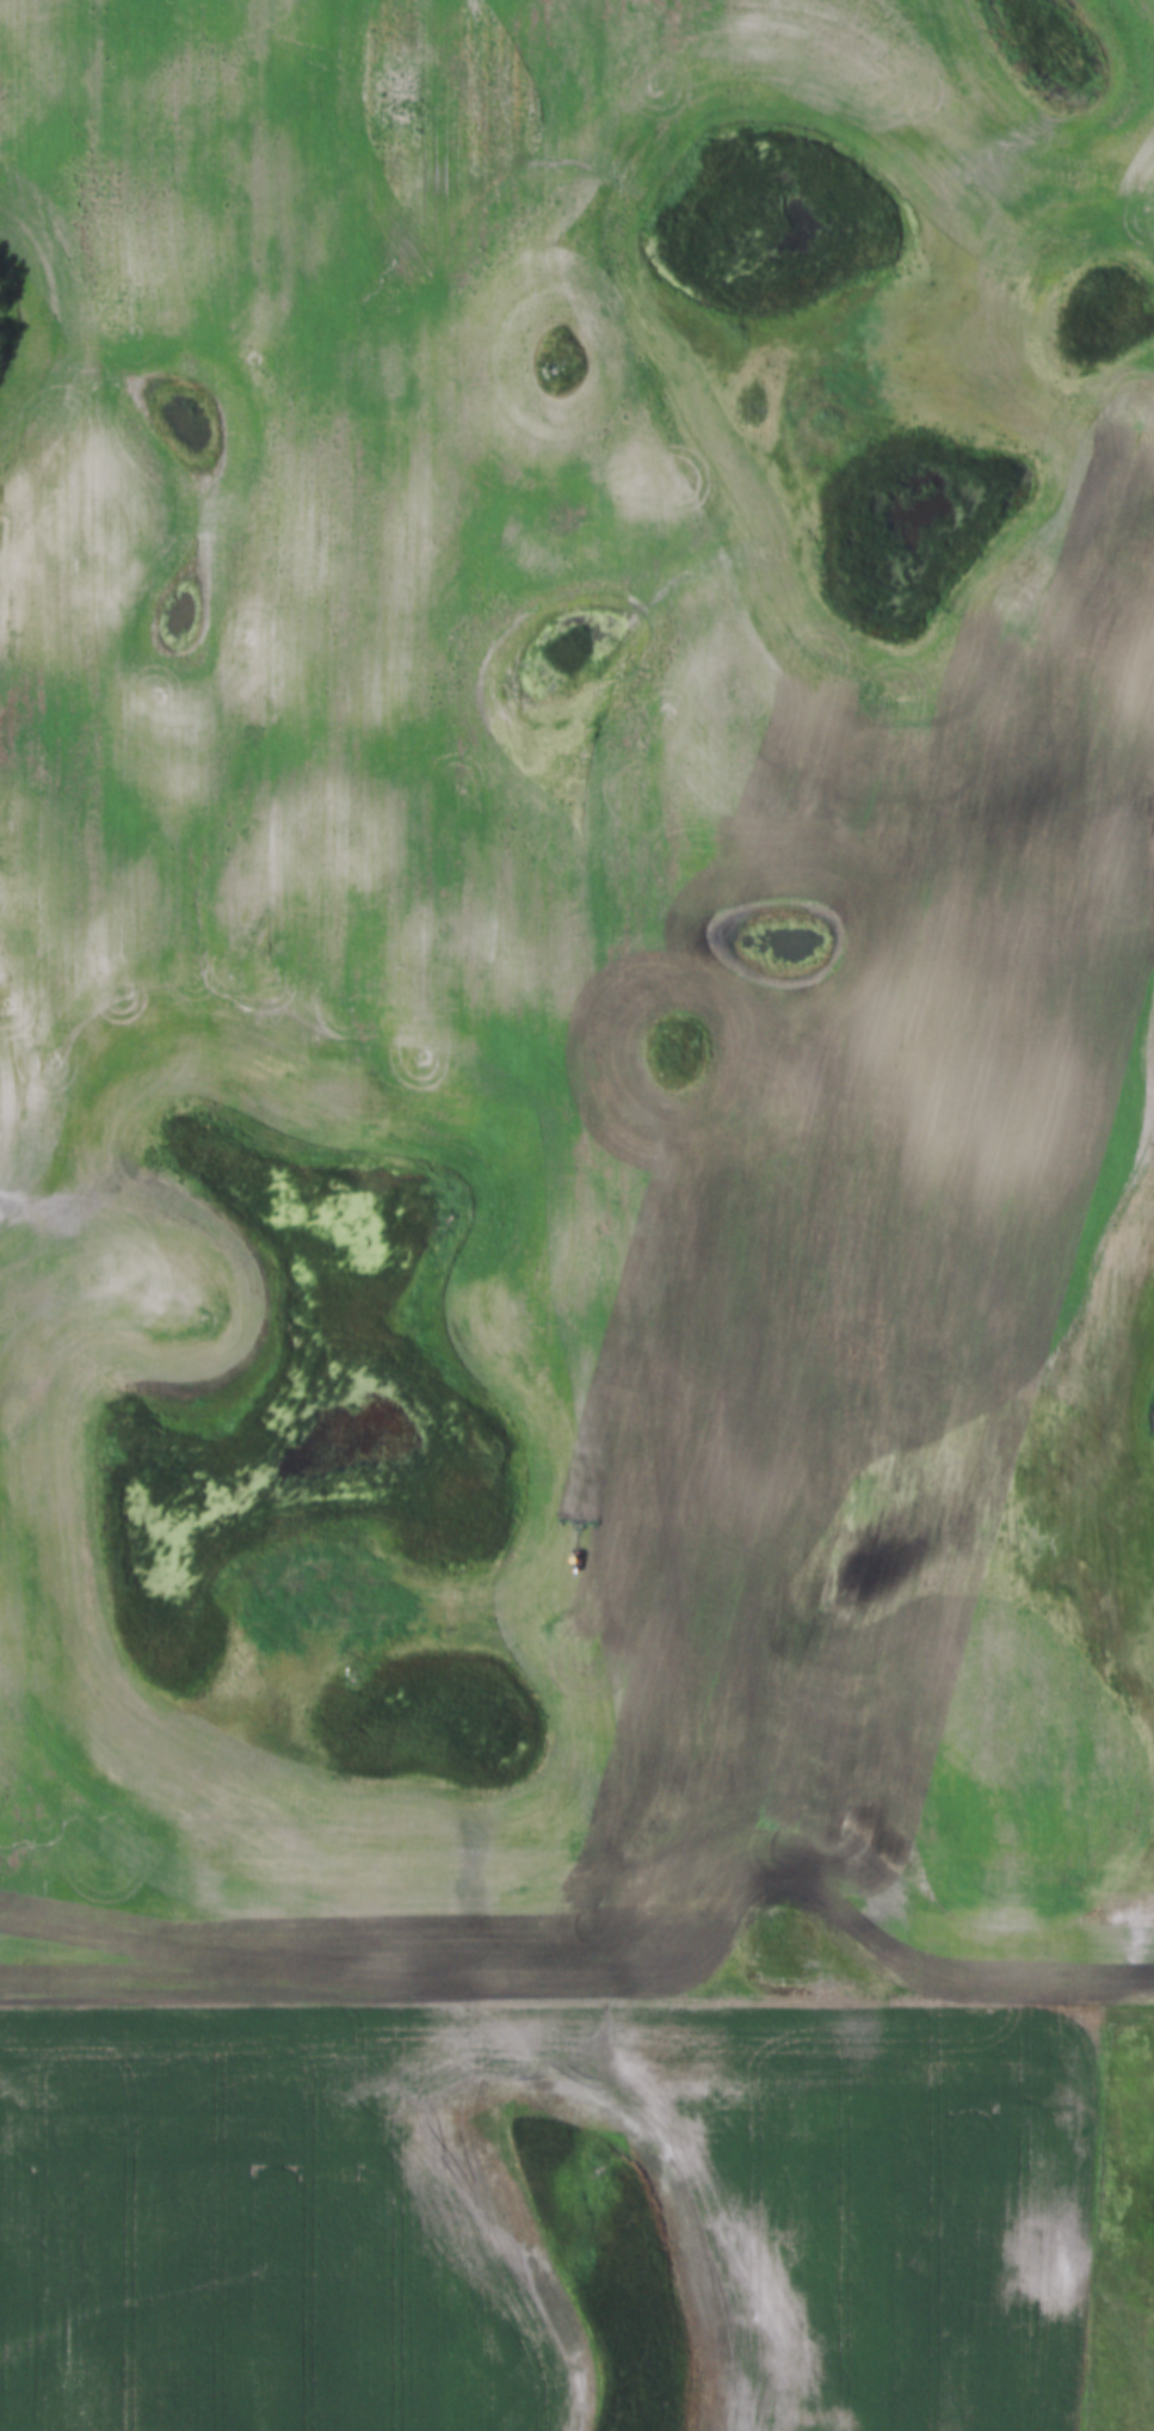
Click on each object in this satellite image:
road: (576, 1995)

